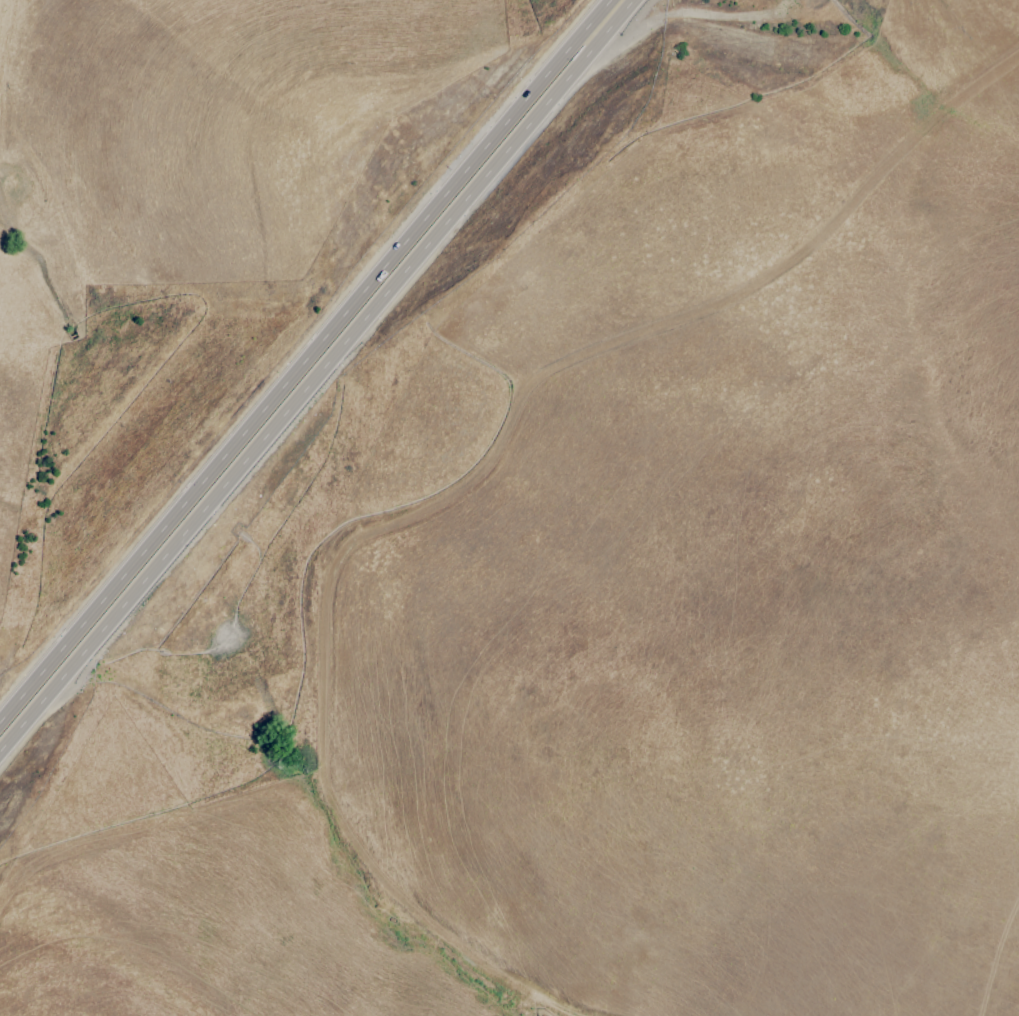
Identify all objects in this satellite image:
road: (9, 44)
road: (303, 356)
road: (313, 376)

